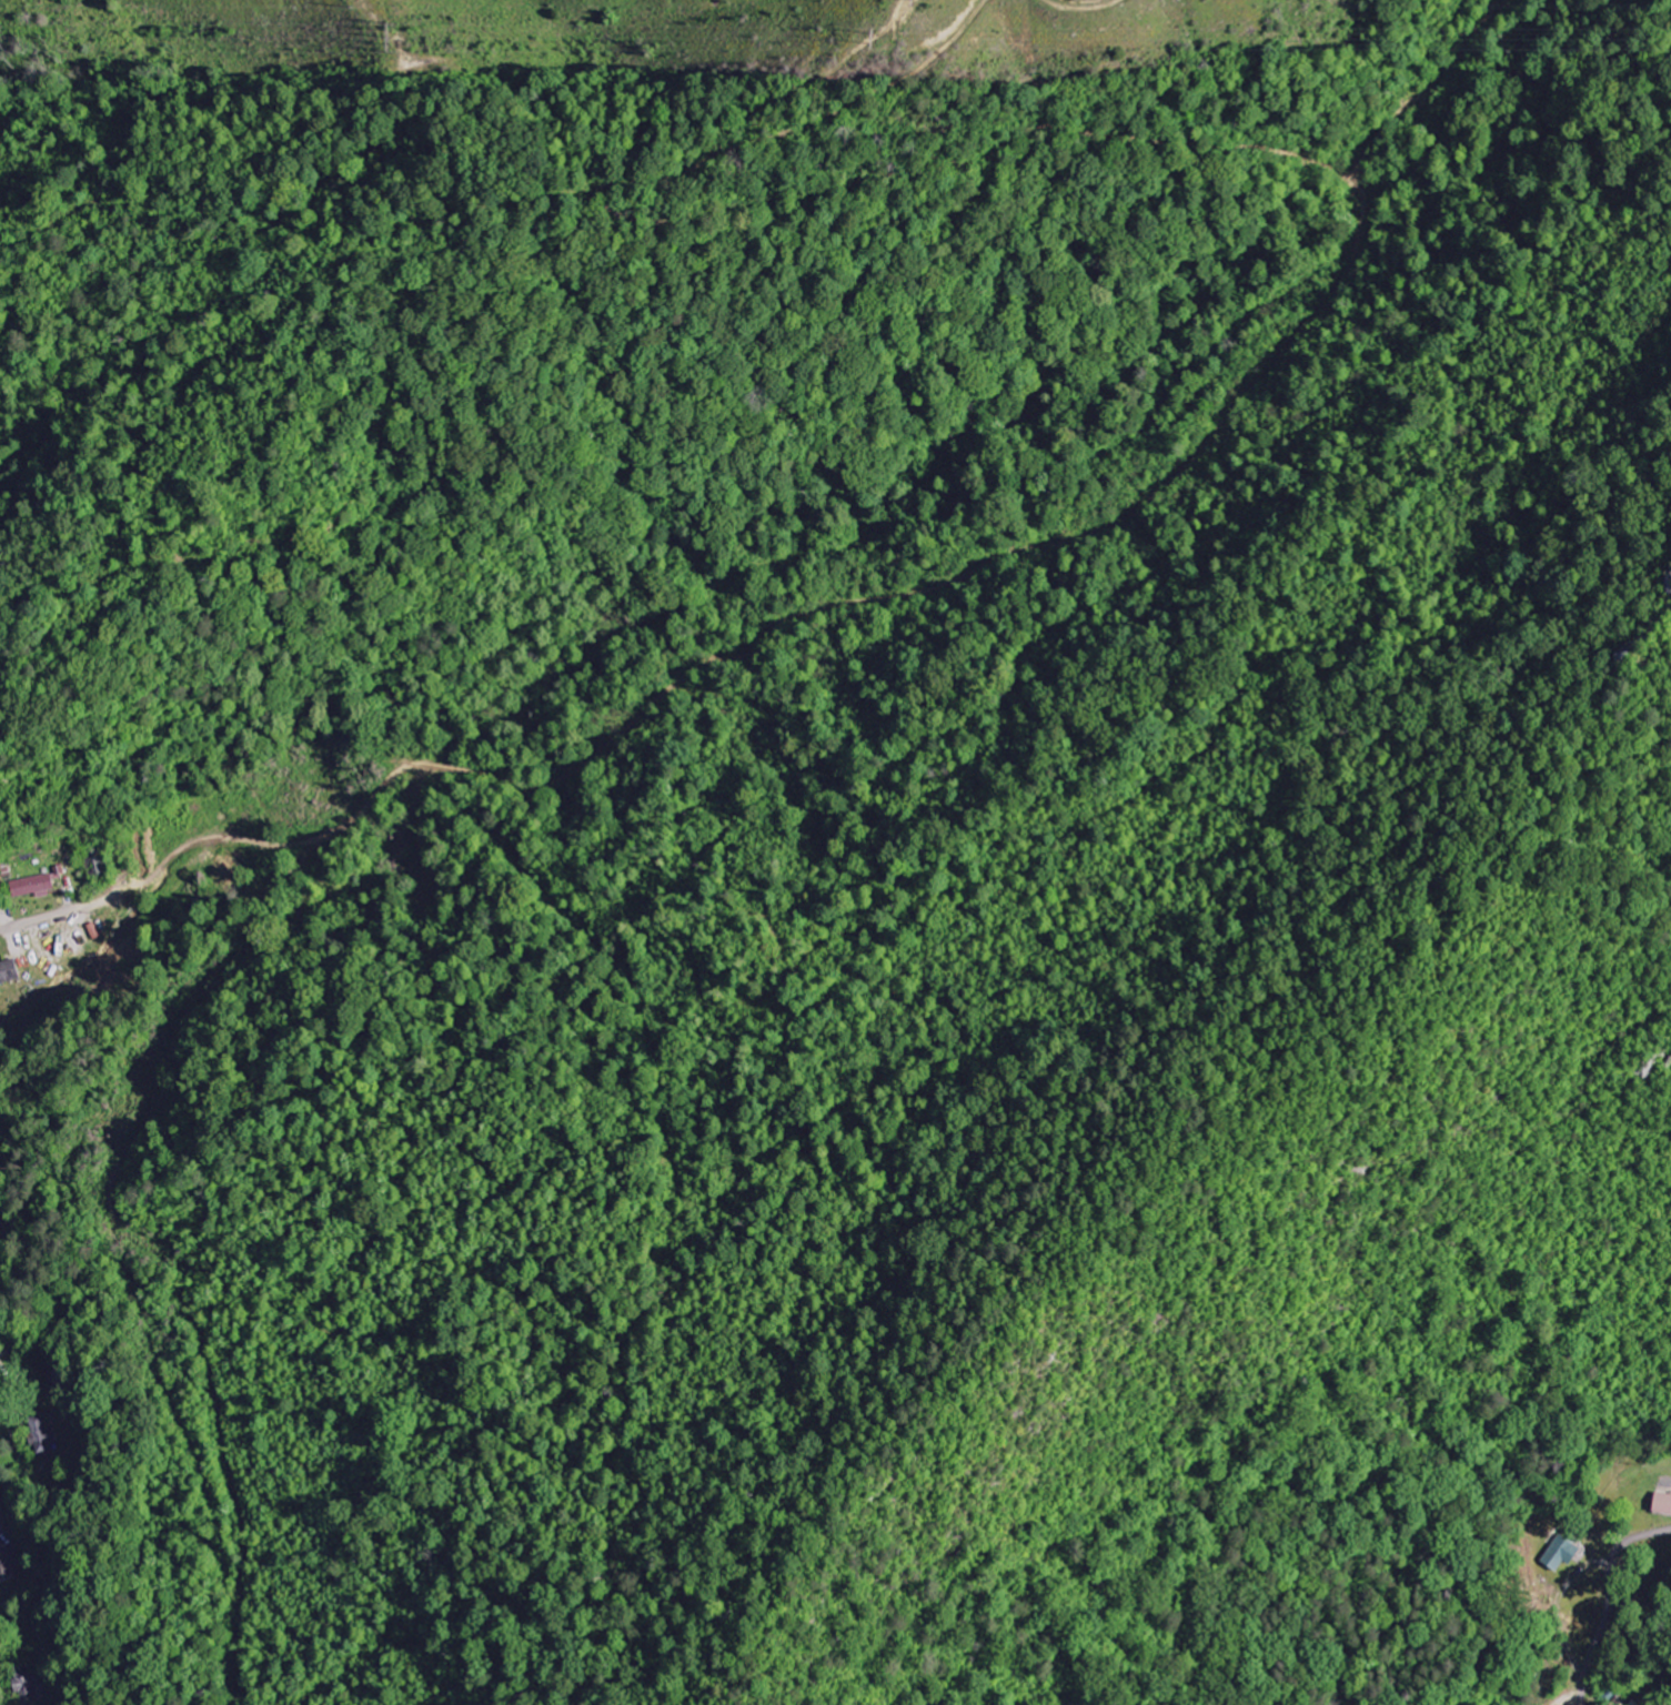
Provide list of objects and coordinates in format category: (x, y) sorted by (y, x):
road: (100, 865)
building: (34, 886)
road: (97, 904)
building: (9, 971)
building: (46, 1436)
building: (1, 1504)
building: (1665, 1504)
building: (1563, 1551)
building: (9, 1562)
road: (1609, 1616)
building: (30, 1688)

